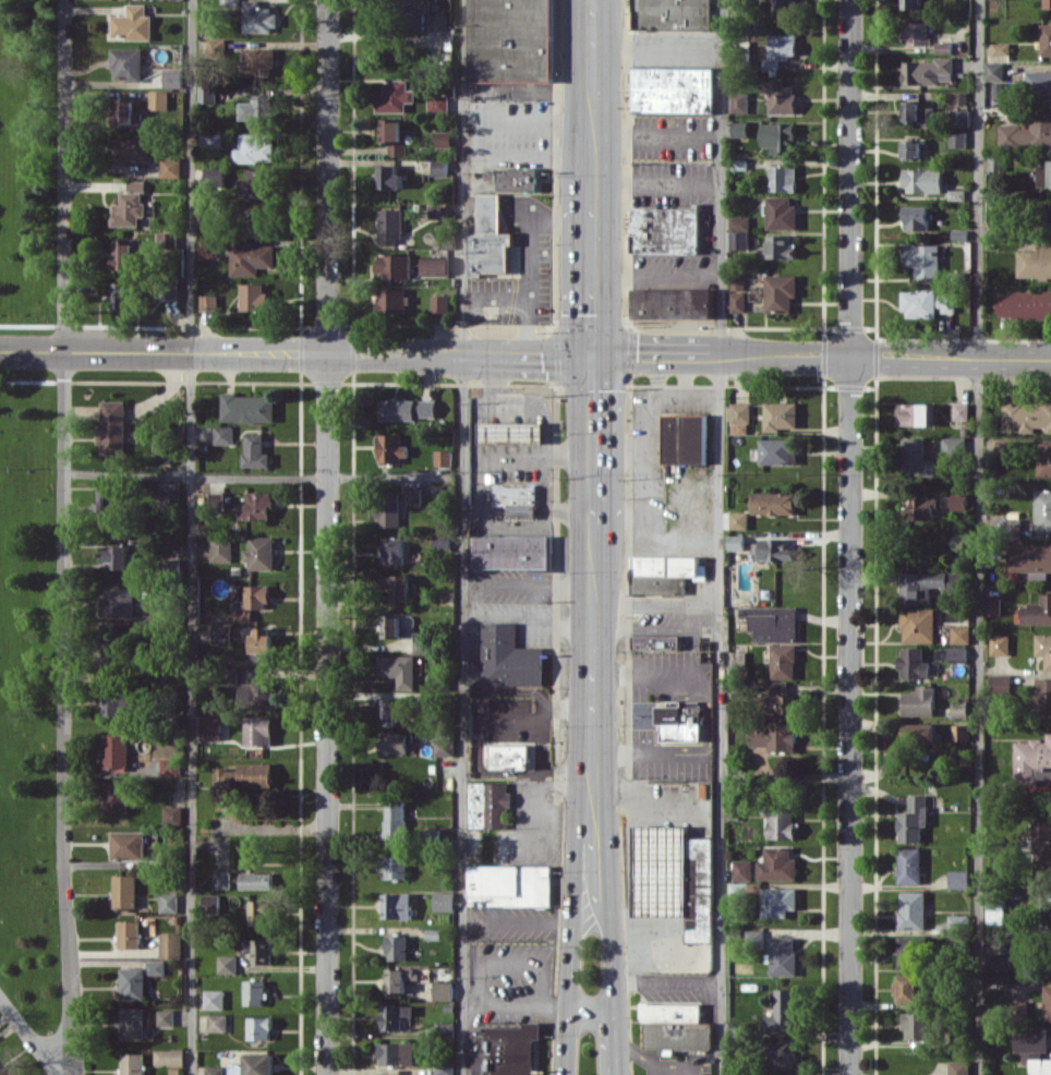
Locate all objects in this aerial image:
building: (911, 3)
building: (1048, 3)
building: (784, 4)
road: (593, 12)
building: (672, 14)
building: (258, 16)
building: (416, 16)
building: (439, 21)
building: (132, 23)
building: (916, 32)
building: (510, 39)
building: (1046, 39)
building: (213, 43)
building: (944, 47)
building: (1001, 48)
road: (656, 50)
building: (777, 50)
building: (259, 61)
building: (128, 63)
building: (994, 70)
building: (928, 71)
building: (173, 77)
building: (1039, 84)
road: (593, 87)
building: (672, 88)
building: (207, 94)
building: (395, 96)
building: (780, 97)
building: (158, 99)
building: (438, 102)
building: (257, 108)
building: (916, 111)
building: (126, 112)
building: (740, 128)
building: (1028, 132)
building: (392, 135)
road: (656, 135)
building: (777, 136)
building: (213, 137)
building: (445, 138)
building: (957, 138)
building: (255, 147)
building: (130, 148)
building: (911, 148)
building: (996, 161)
road: (593, 166)
building: (171, 167)
building: (440, 167)
building: (1044, 172)
building: (1050, 172)
road: (64, 176)
building: (215, 177)
building: (390, 177)
building: (783, 178)
building: (518, 179)
building: (922, 180)
road: (657, 181)
building: (256, 183)
building: (136, 185)
building: (957, 194)
building: (129, 208)
building: (439, 212)
building: (781, 213)
building: (917, 217)
road: (496, 220)
building: (258, 222)
building: (739, 222)
building: (1050, 225)
building: (390, 226)
road: (527, 228)
building: (665, 230)
building: (959, 233)
building: (994, 233)
building: (165, 237)
building: (490, 238)
building: (739, 240)
building: (778, 246)
building: (208, 249)
building: (138, 253)
building: (123, 254)
building: (251, 258)
building: (922, 259)
building: (1035, 262)
building: (396, 265)
building: (435, 266)
road: (593, 268)
road: (657, 276)
building: (169, 292)
building: (781, 292)
building: (122, 294)
building: (738, 294)
building: (254, 295)
road: (522, 298)
building: (391, 300)
building: (209, 302)
building: (440, 303)
building: (672, 303)
building: (927, 303)
building: (1024, 303)
road: (32, 350)
road: (329, 352)
traffic signals: (594, 354)
road: (822, 355)
building: (247, 408)
building: (407, 409)
building: (961, 411)
building: (914, 413)
building: (781, 414)
building: (1027, 414)
building: (739, 418)
building: (113, 426)
building: (511, 432)
building: (224, 434)
road: (593, 434)
building: (684, 438)
building: (954, 446)
building: (392, 448)
building: (1004, 448)
building: (255, 450)
building: (776, 450)
building: (444, 457)
building: (916, 457)
building: (1043, 457)
road: (195, 478)
building: (414, 495)
building: (168, 497)
building: (217, 498)
building: (517, 499)
building: (959, 502)
building: (774, 503)
building: (258, 505)
building: (109, 506)
building: (922, 507)
building: (1042, 509)
building: (388, 510)
park: (28, 512)
building: (738, 519)
building: (1011, 529)
road: (463, 536)
road: (716, 536)
road: (191, 537)
road: (327, 537)
road: (849, 537)
road: (979, 537)
building: (442, 542)
building: (737, 542)
building: (221, 549)
building: (394, 549)
building: (773, 549)
building: (514, 551)
building: (262, 553)
building: (116, 556)
building: (1031, 558)
building: (665, 572)
building: (954, 581)
building: (395, 585)
building: (921, 585)
road: (654, 601)
building: (253, 602)
building: (118, 603)
building: (993, 605)
building: (1038, 611)
building: (144, 620)
building: (774, 624)
building: (391, 625)
building: (918, 625)
road: (593, 628)
building: (961, 633)
building: (263, 639)
building: (655, 641)
building: (422, 642)
building: (1000, 644)
building: (1044, 648)
building: (957, 654)
building: (109, 655)
building: (509, 656)
building: (784, 661)
building: (914, 663)
building: (399, 668)
building: (1001, 684)
building: (259, 693)
building: (1043, 696)
building: (782, 698)
building: (118, 701)
building: (920, 701)
building: (391, 706)
building: (959, 709)
road: (64, 713)
building: (680, 720)
building: (212, 726)
building: (258, 729)
building: (961, 732)
building: (921, 733)
building: (775, 736)
building: (398, 742)
building: (444, 746)
building: (117, 750)
building: (510, 756)
building: (1032, 760)
building: (171, 766)
building: (796, 770)
building: (245, 775)
road: (588, 794)
building: (117, 797)
building: (488, 805)
building: (173, 814)
building: (914, 819)
building: (396, 822)
building: (782, 824)
building: (432, 834)
building: (129, 845)
building: (1042, 845)
building: (777, 863)
building: (910, 865)
building: (396, 867)
building: (742, 869)
road: (605, 875)
building: (674, 877)
building: (221, 879)
building: (958, 879)
building: (256, 880)
road: (578, 882)
building: (510, 884)
building: (125, 891)
building: (444, 901)
building: (778, 901)
building: (168, 902)
building: (212, 904)
building: (397, 905)
building: (913, 909)
building: (259, 911)
building: (1048, 914)
road: (592, 919)
road: (527, 920)
building: (958, 921)
building: (148, 926)
building: (130, 933)
building: (433, 933)
building: (754, 937)
building: (171, 944)
building: (397, 946)
building: (257, 949)
building: (910, 952)
building: (783, 956)
building: (1050, 957)
building: (228, 964)
building: (156, 967)
road: (479, 976)
building: (400, 978)
building: (134, 983)
building: (907, 988)
building: (444, 990)
building: (254, 992)
road: (569, 997)
building: (214, 999)
road: (471, 1000)
building: (1048, 1002)
road: (592, 1007)
building: (1020, 1008)
building: (783, 1012)
building: (396, 1015)
building: (166, 1017)
building: (133, 1023)
building: (217, 1023)
building: (918, 1025)
building: (675, 1026)
building: (259, 1027)
building: (445, 1030)
road: (29, 1035)
building: (1031, 1039)
road: (616, 1041)
building: (505, 1049)
building: (397, 1053)
building: (783, 1054)
building: (169, 1056)
building: (133, 1063)
building: (259, 1063)
building: (445, 1066)
building: (1040, 1066)
building: (959, 1067)
building: (209, 1070)
building: (0, 1074)

